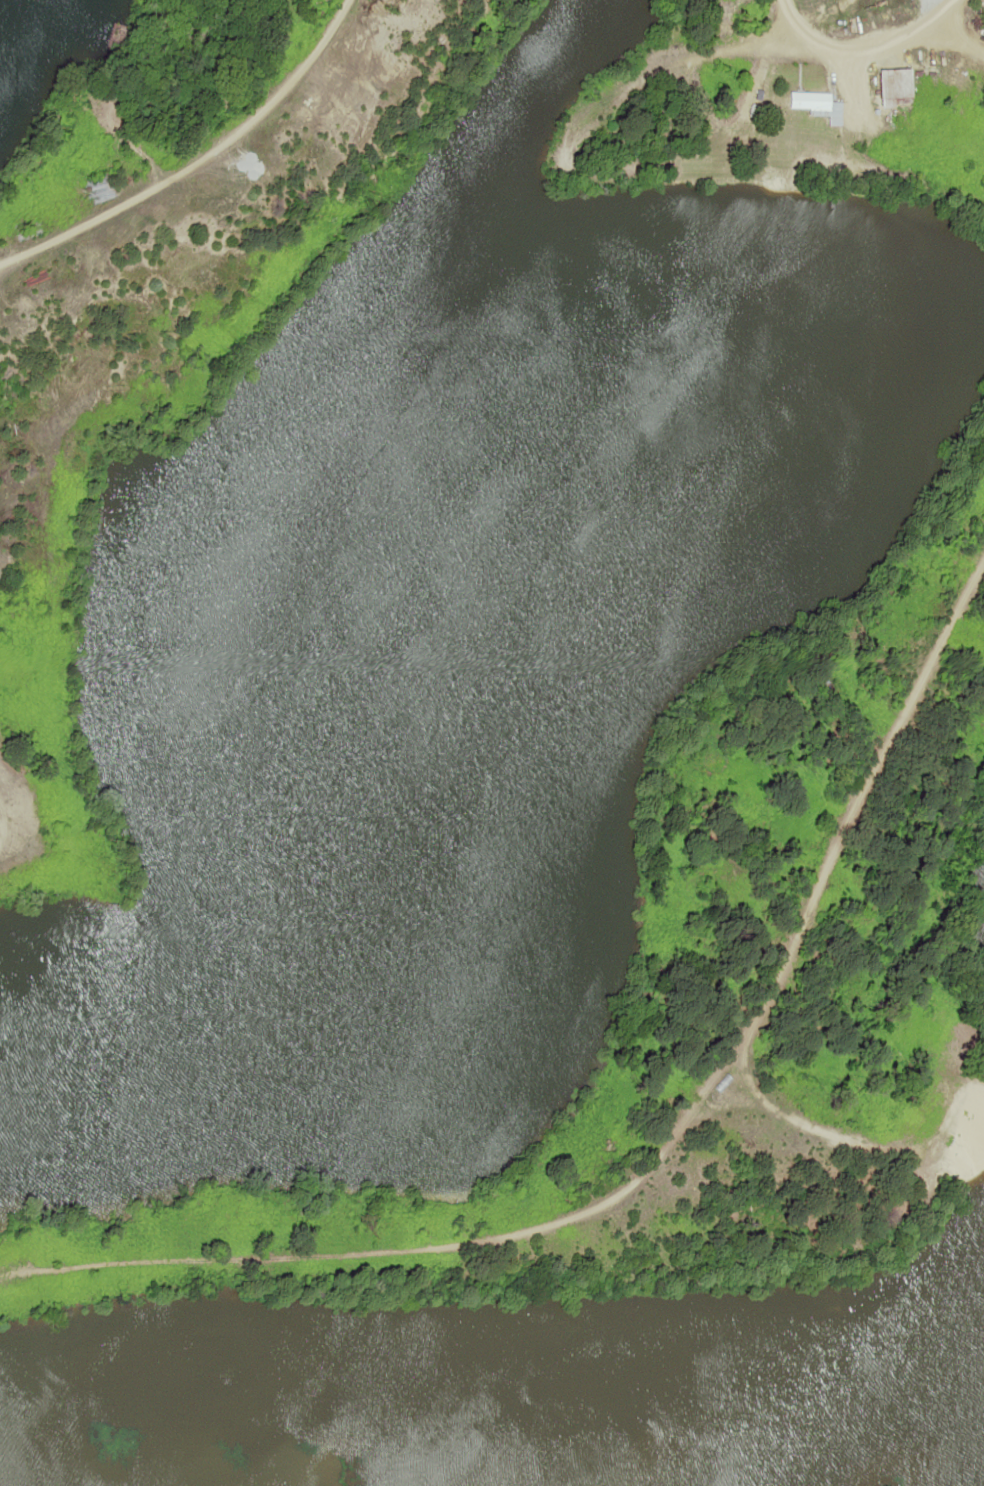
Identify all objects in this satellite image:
building: (897, 84)
building: (817, 105)

